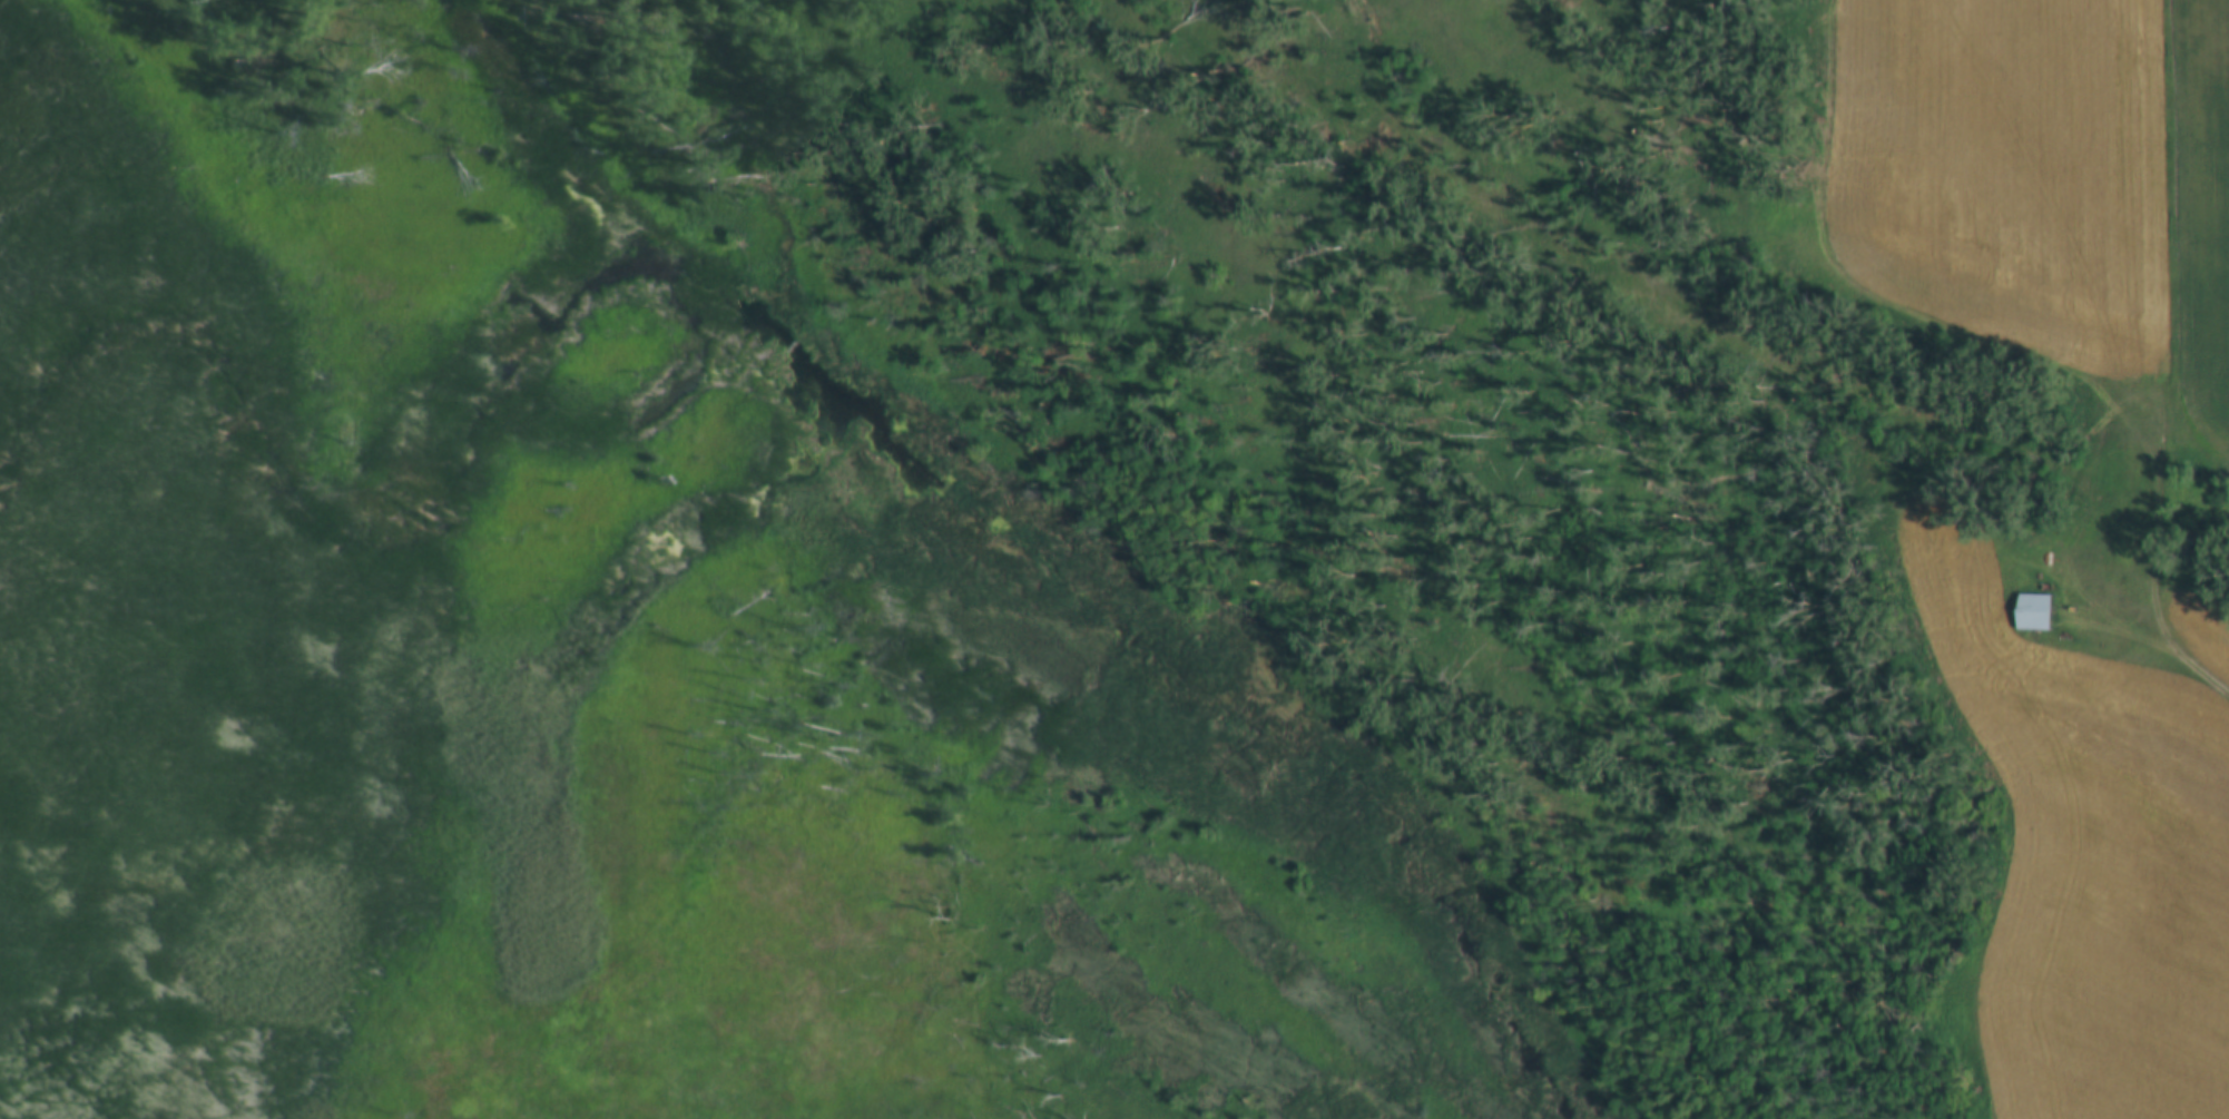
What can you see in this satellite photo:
building: (2039, 612)
road: (2157, 627)

